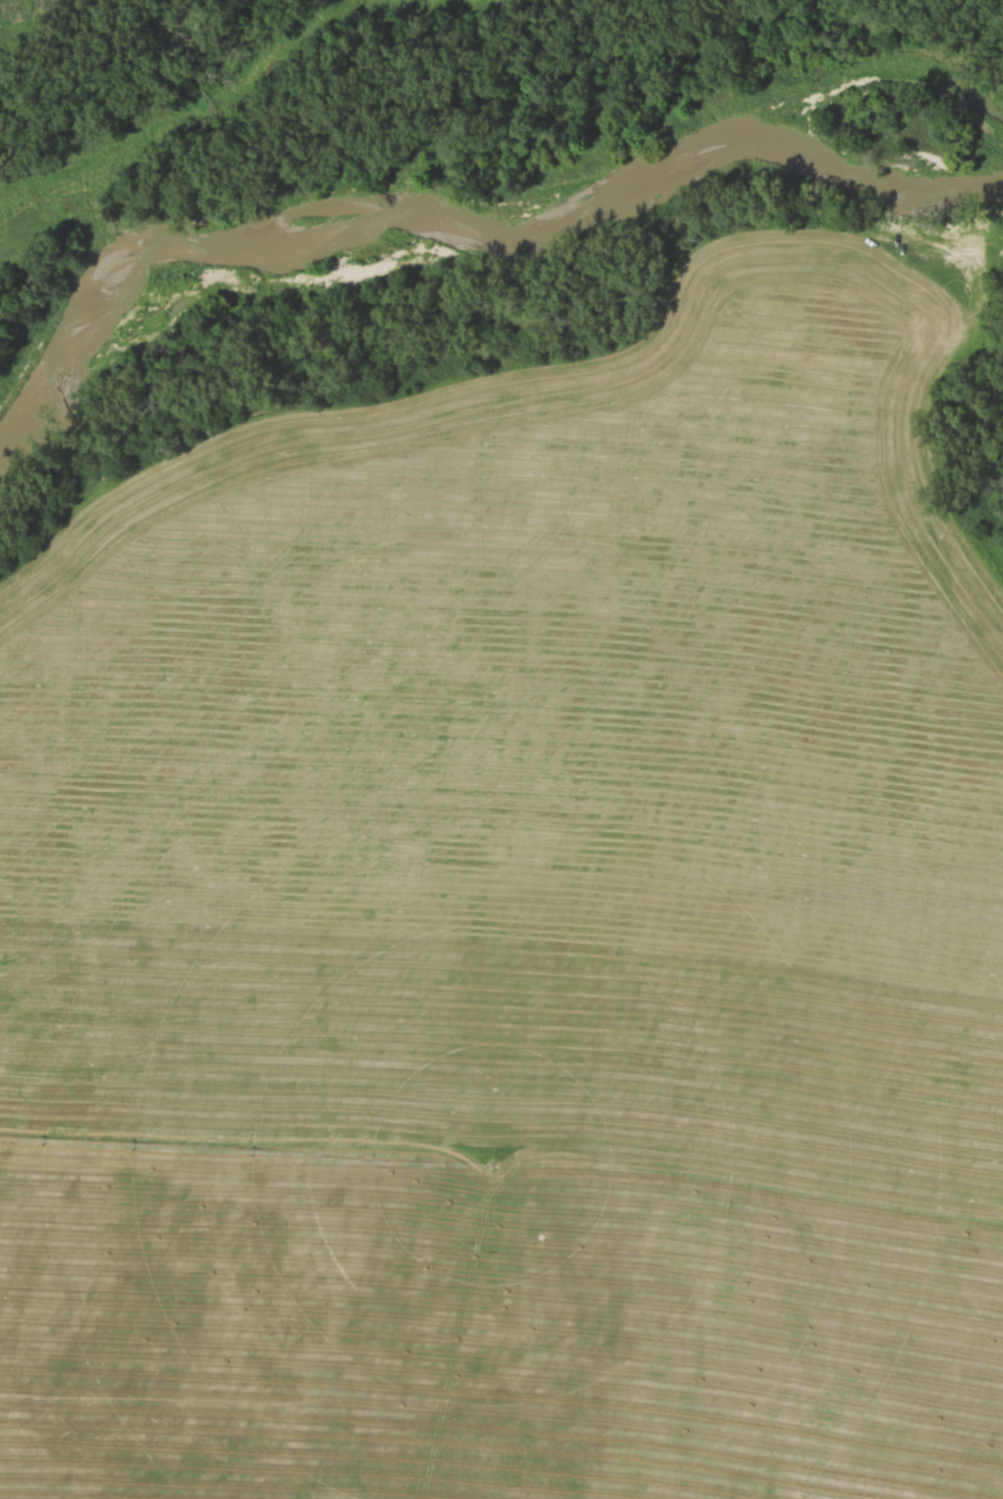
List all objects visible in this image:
river: (456, 235)

